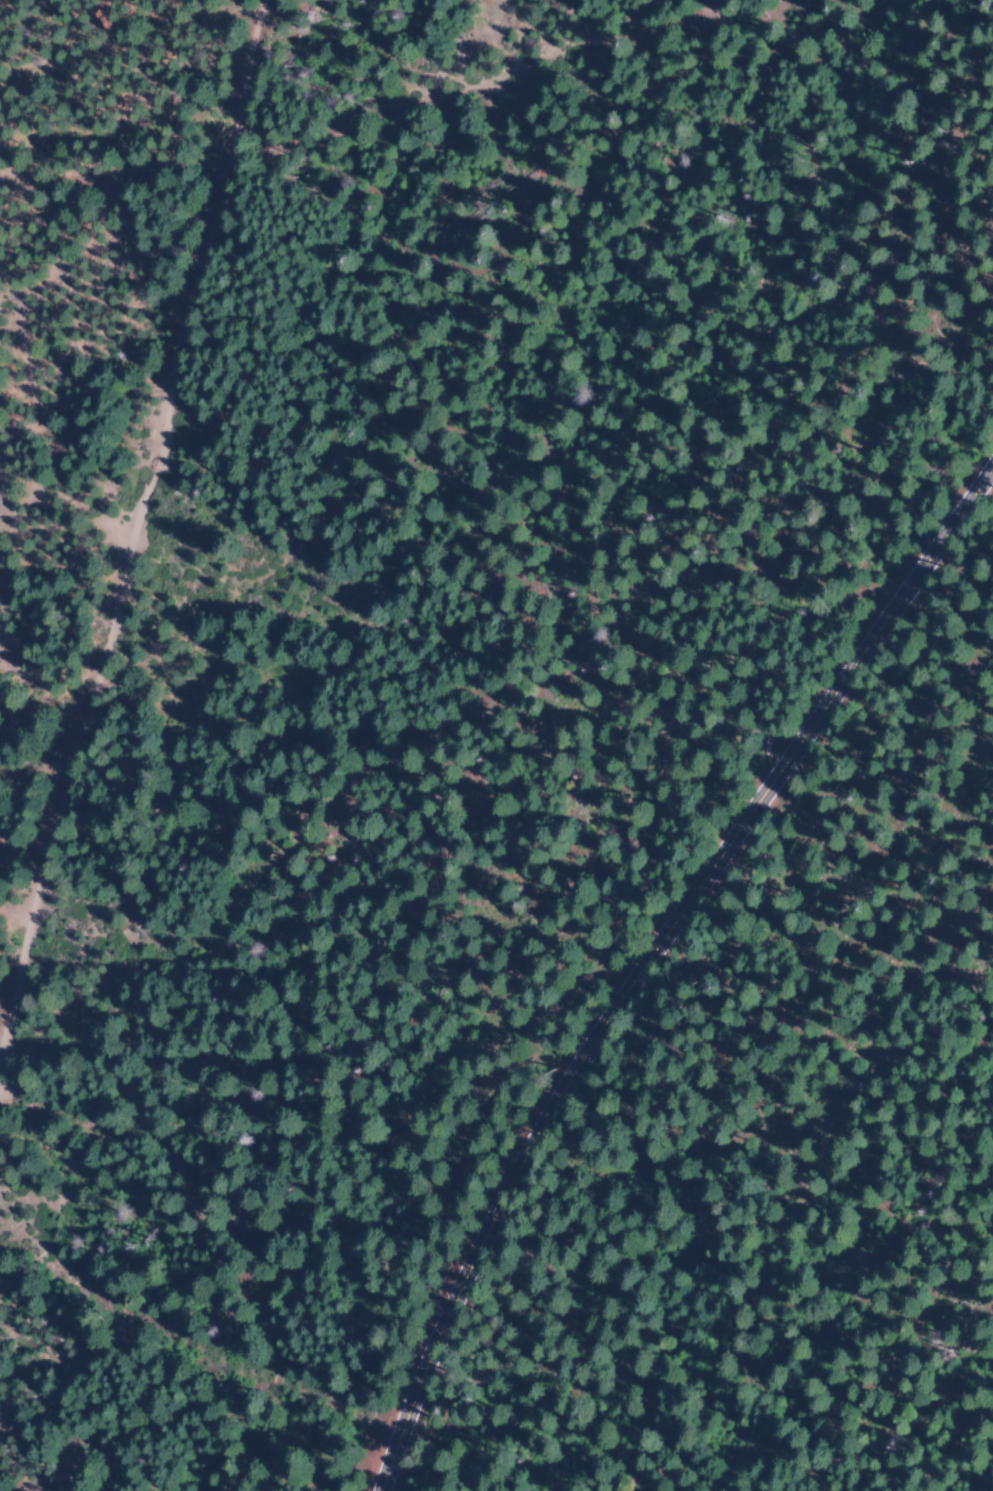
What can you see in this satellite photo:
road: (131, 509)
road: (640, 938)

